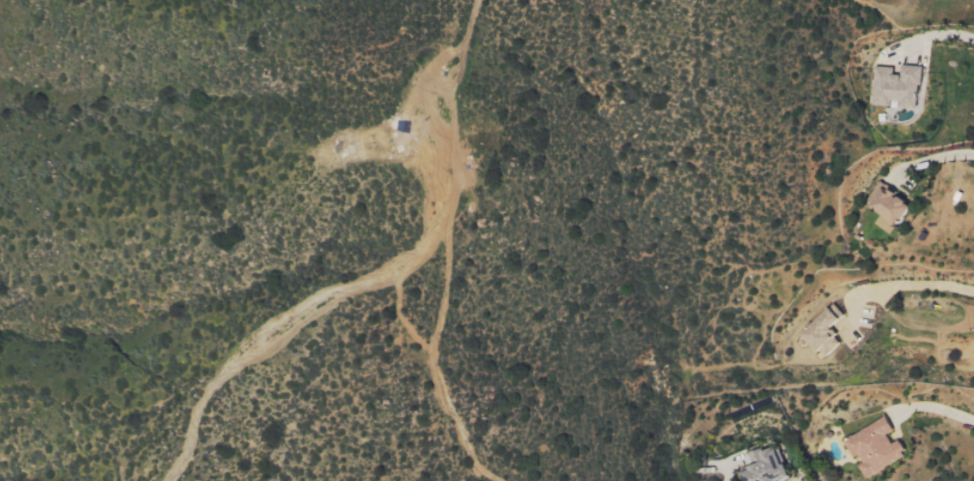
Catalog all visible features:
road: (938, 35)
building: (898, 87)
road: (930, 159)
building: (889, 207)
road: (917, 284)
building: (827, 331)
road: (933, 407)
building: (877, 447)
building: (767, 465)
road: (728, 467)

